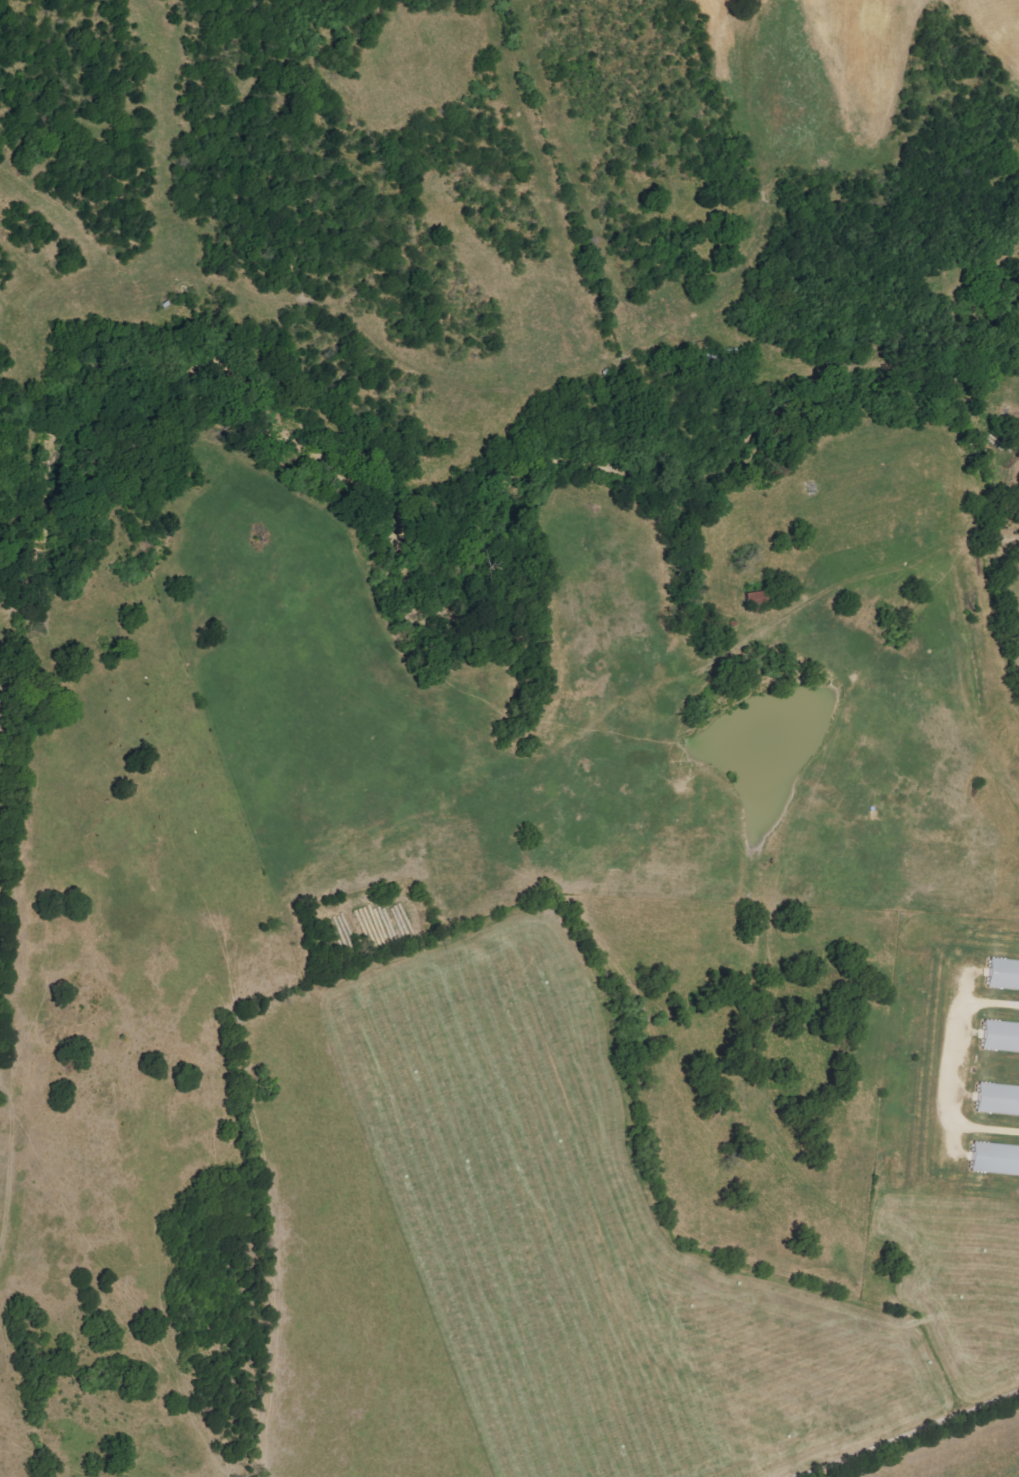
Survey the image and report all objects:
building: (1003, 975)
building: (1000, 1037)
building: (998, 1100)
building: (995, 1159)

